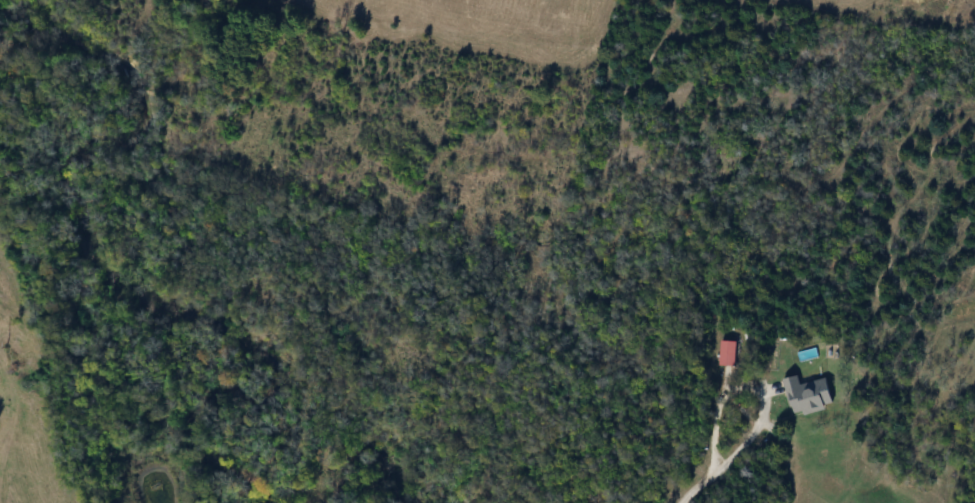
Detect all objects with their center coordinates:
building: (727, 354)
road: (755, 387)
building: (809, 396)
road: (696, 486)

